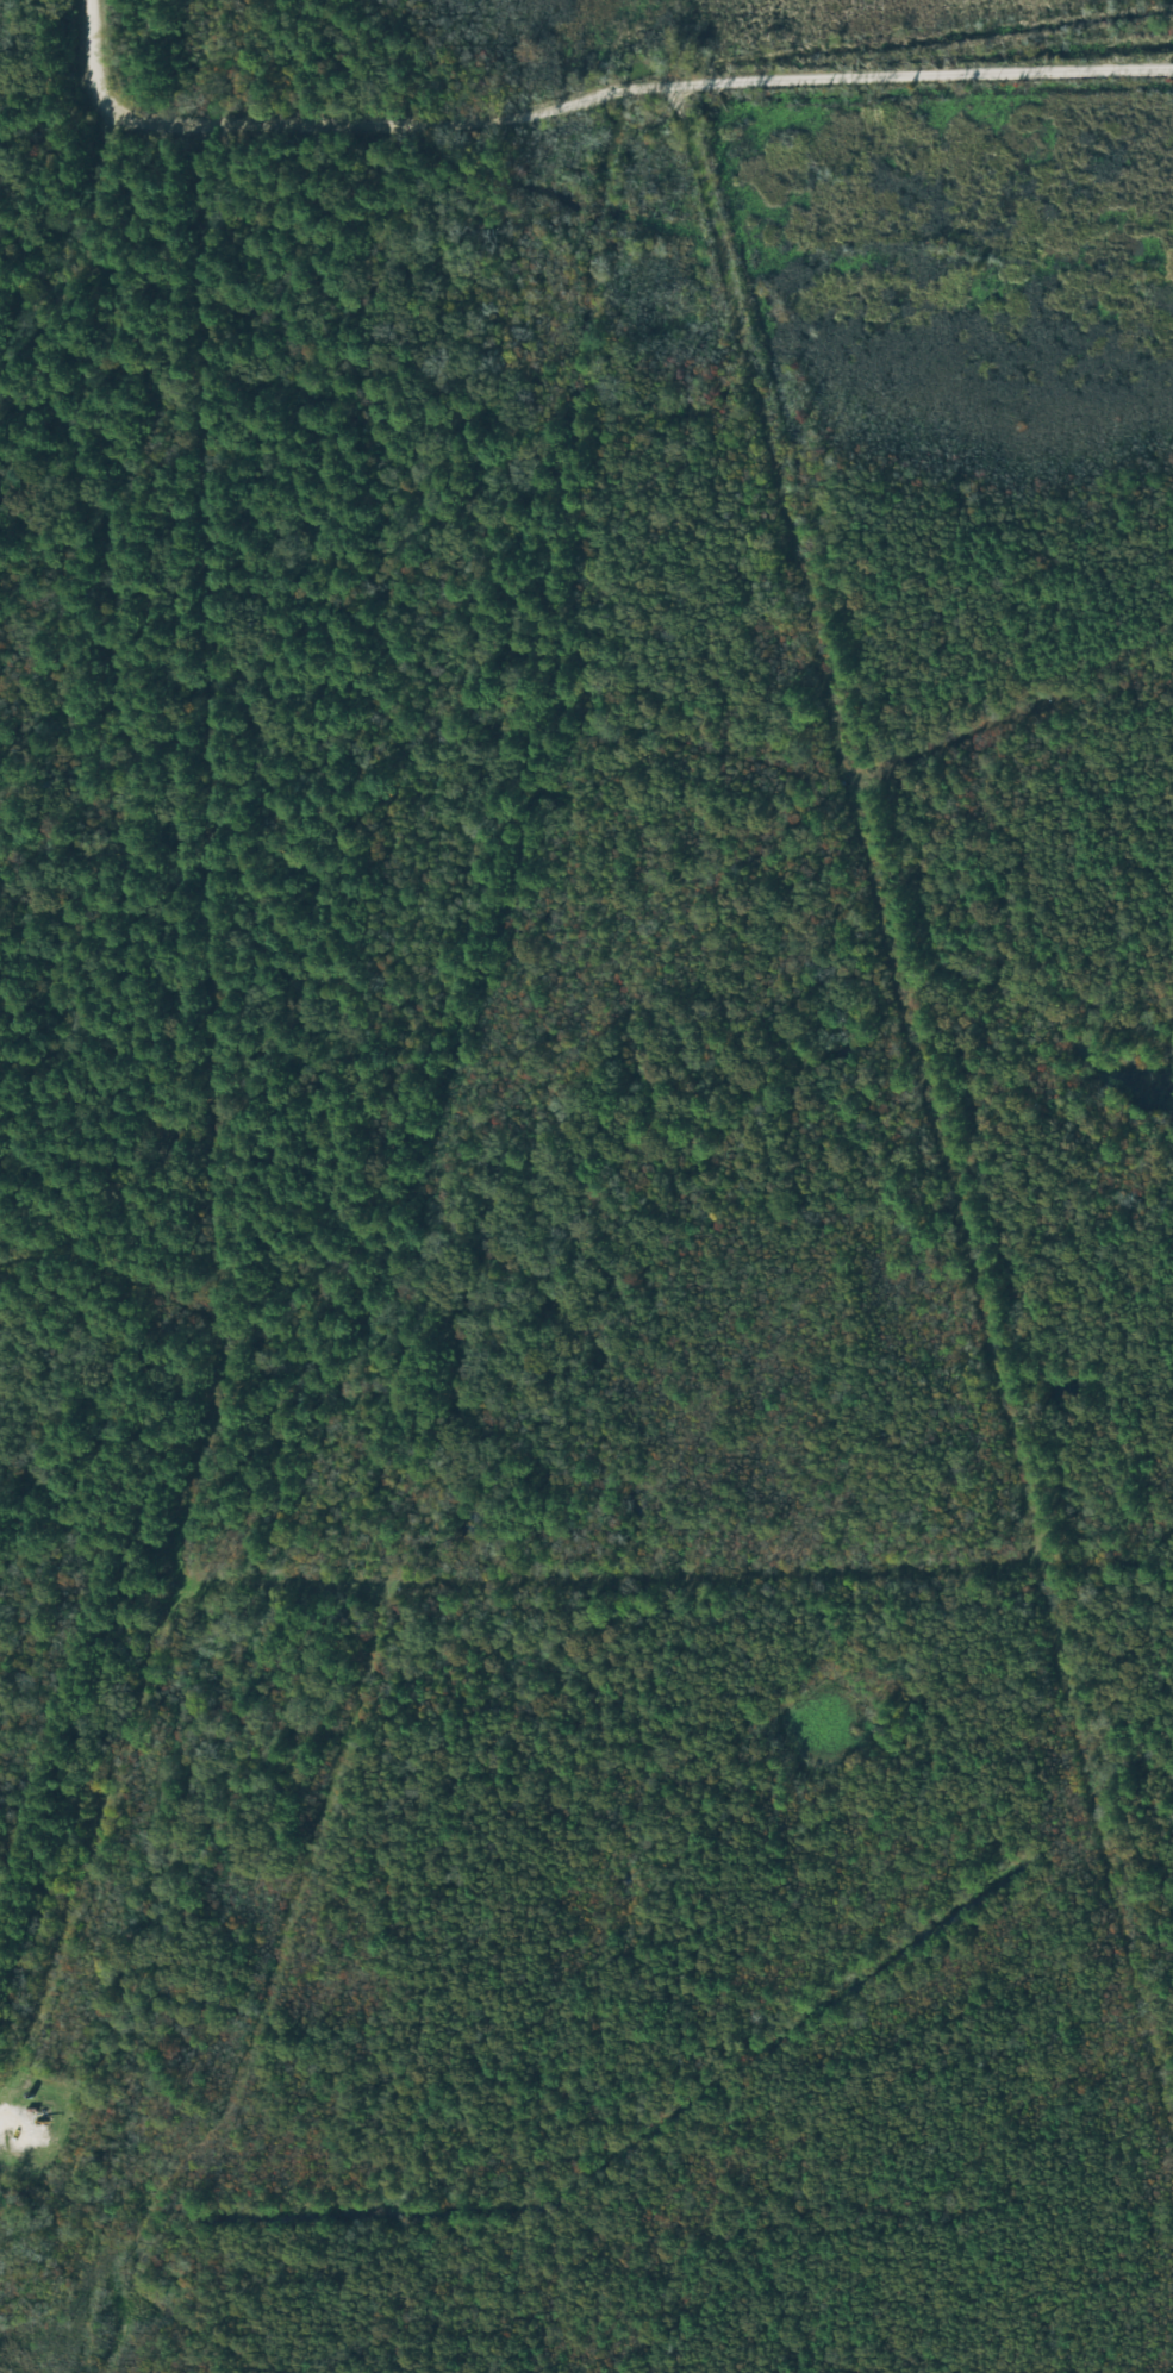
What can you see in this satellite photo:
road: (570, 107)
road: (734, 398)

